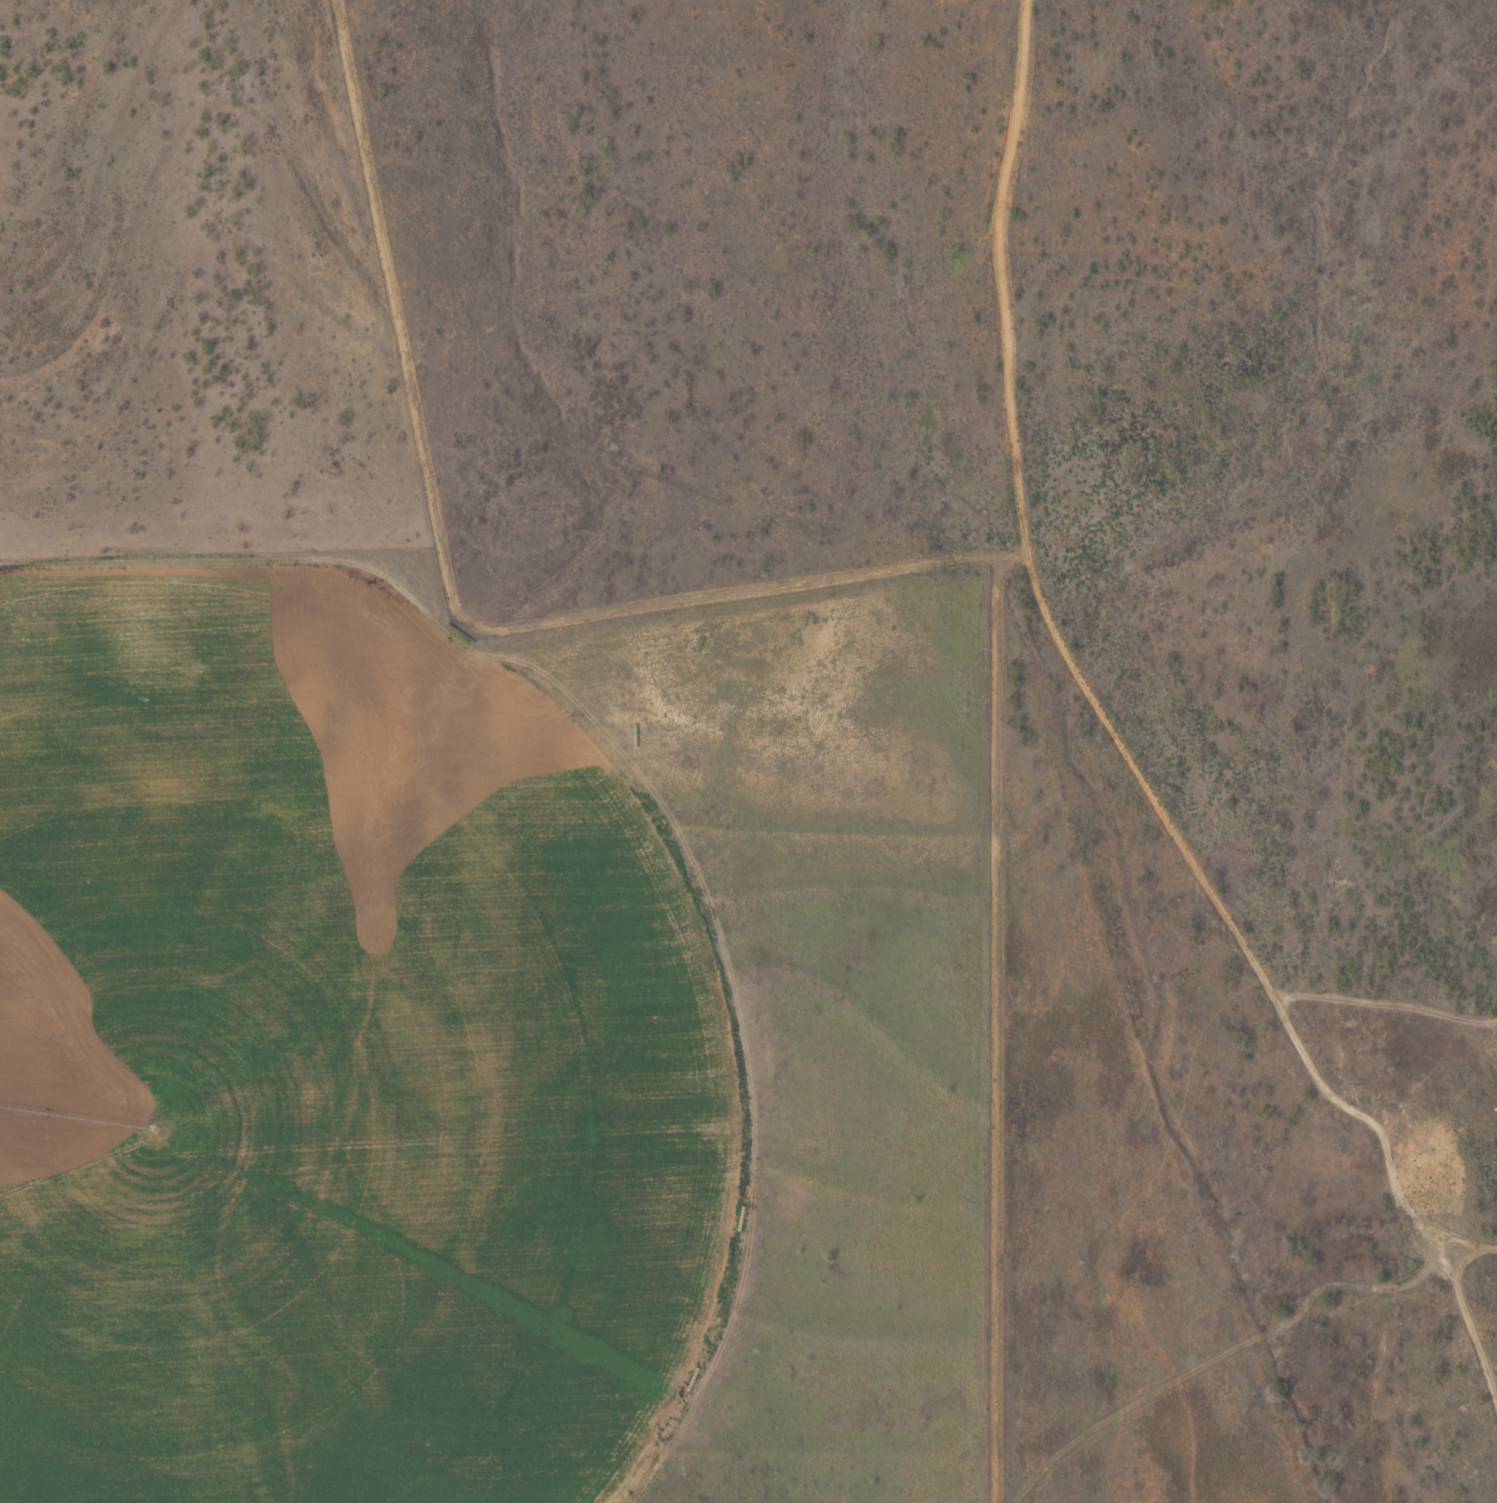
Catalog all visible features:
road: (1079, 712)
building: (1422, 1182)
road: (1460, 1353)

